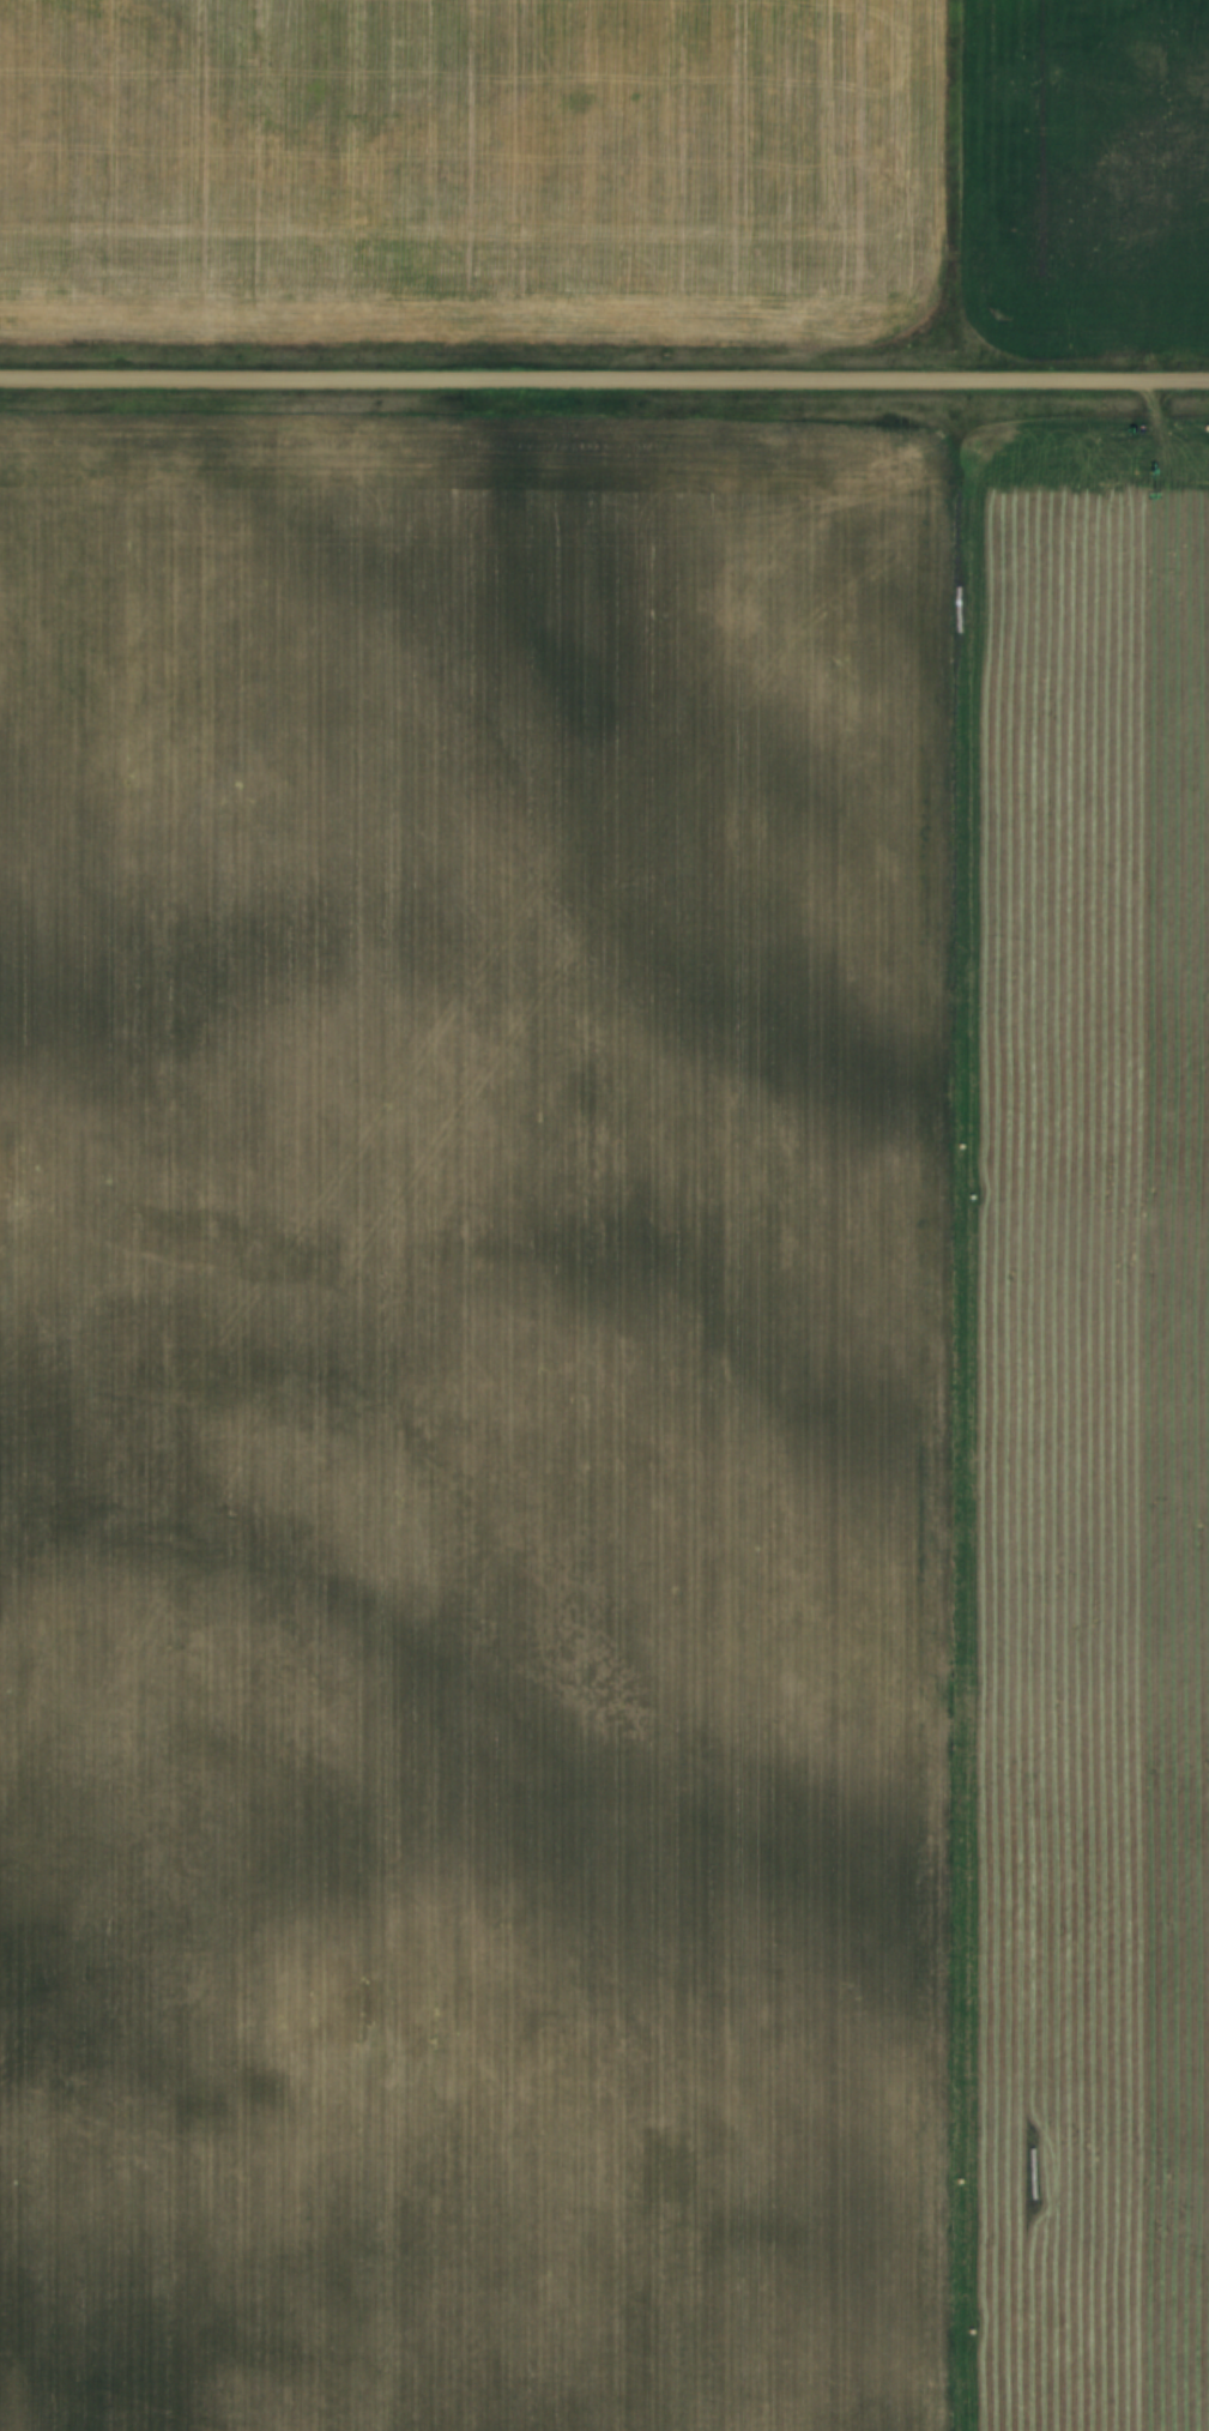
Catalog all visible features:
road: (604, 382)

